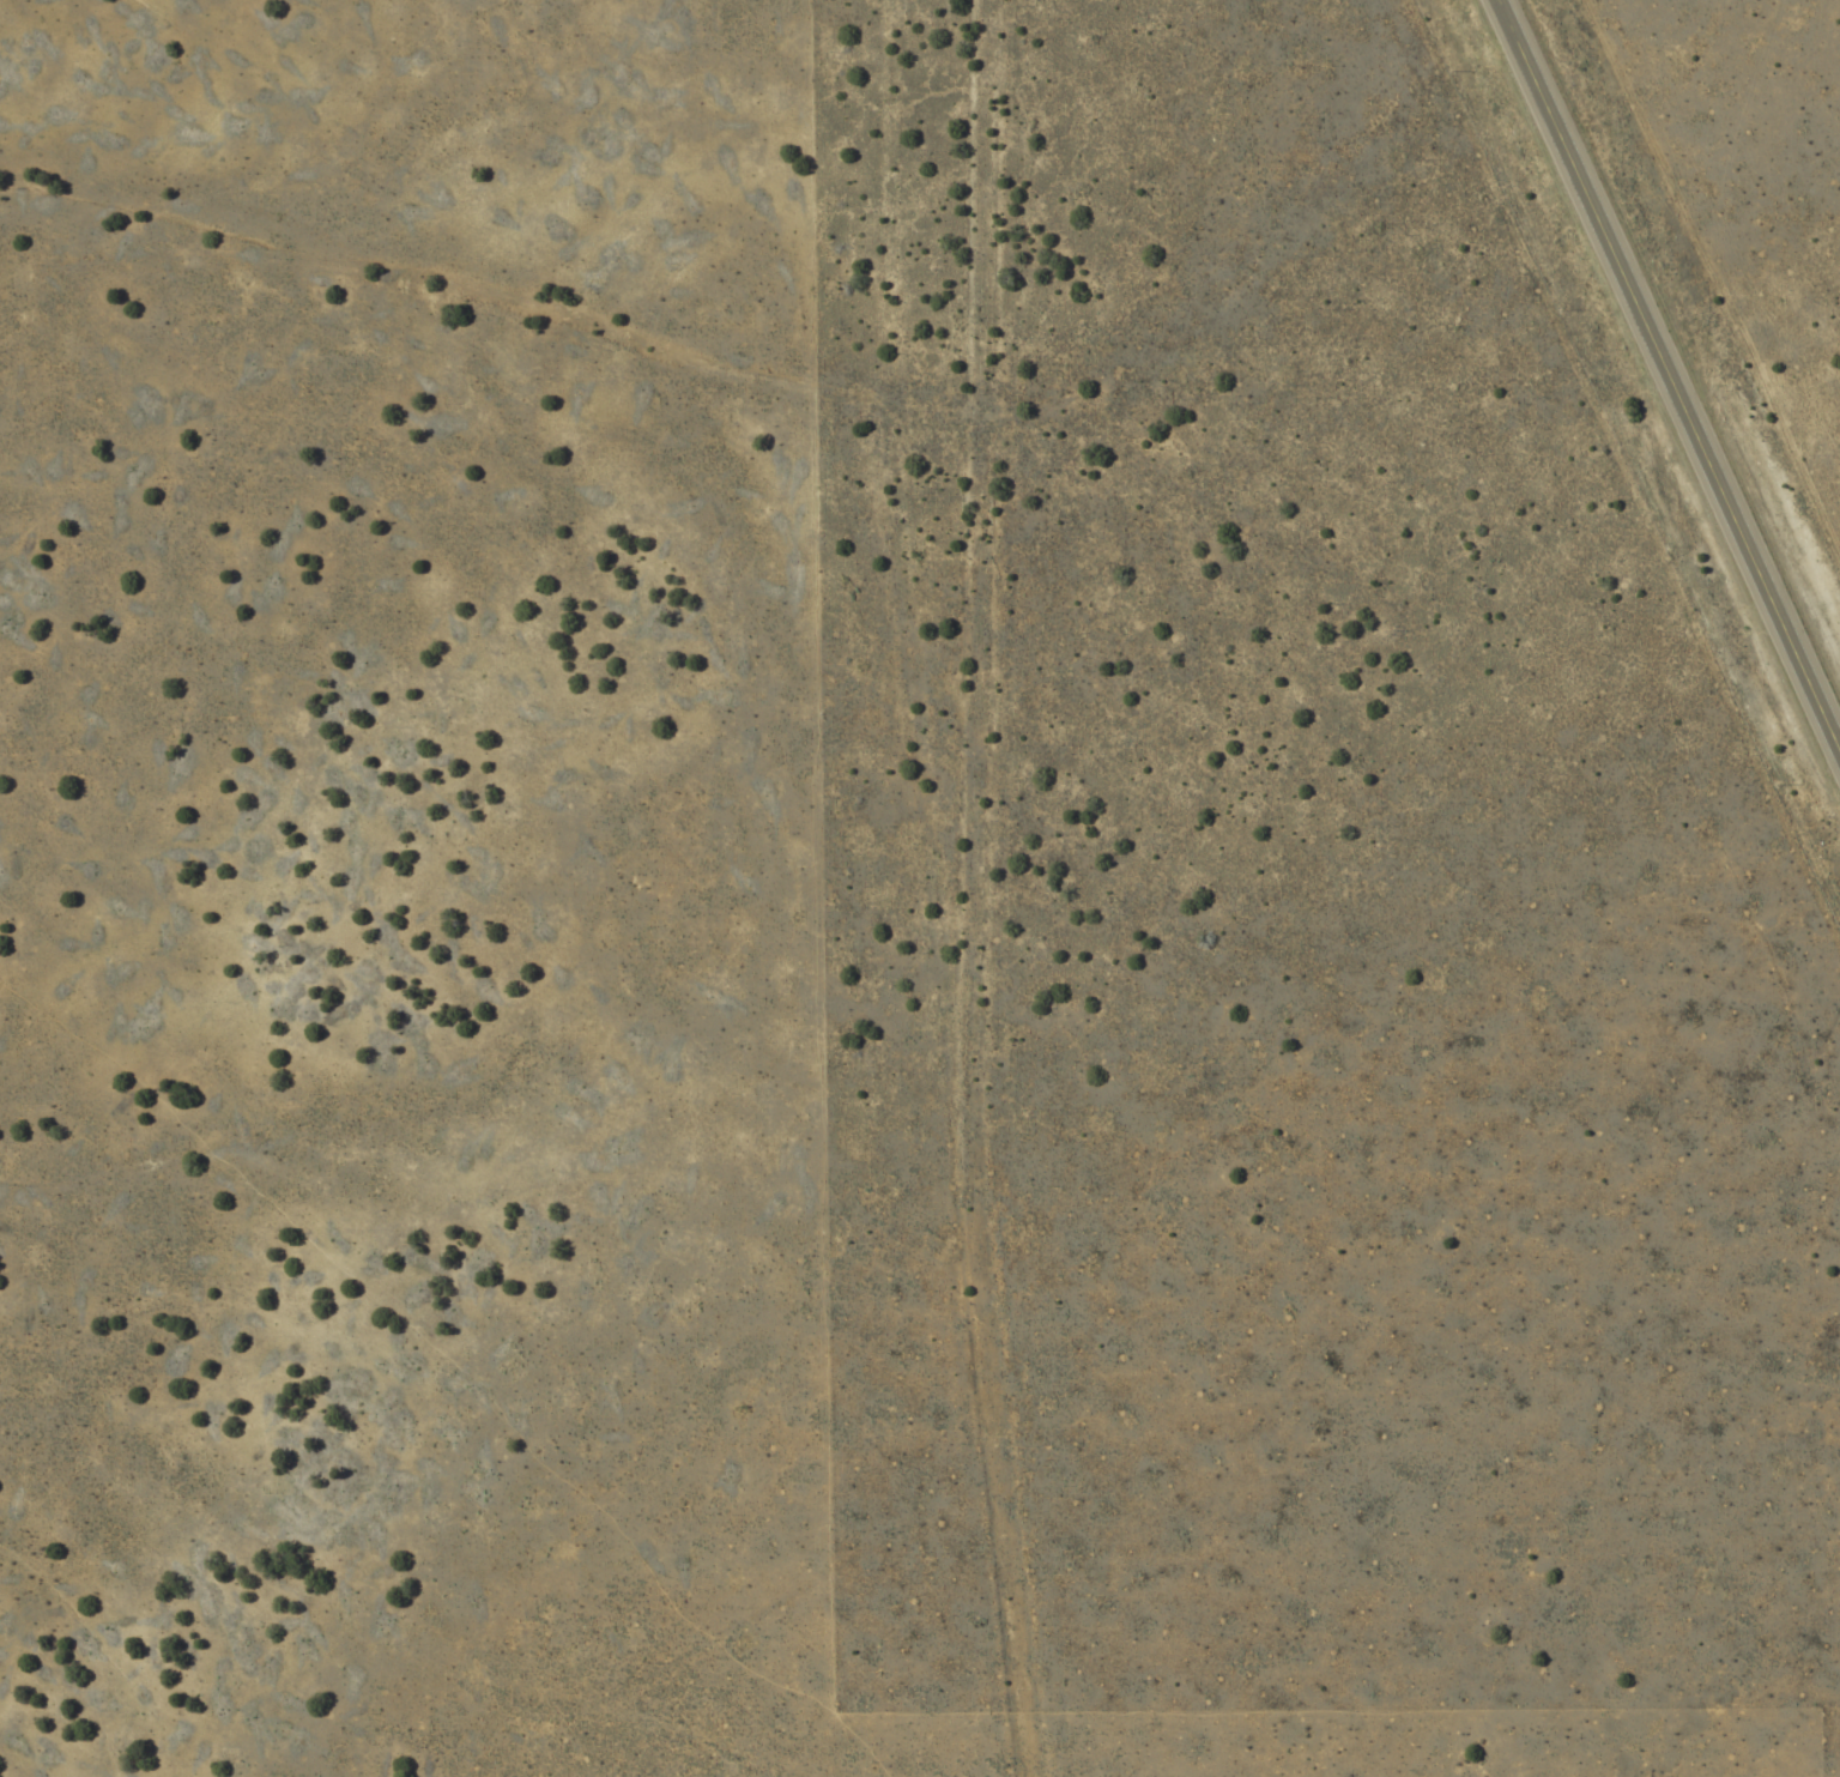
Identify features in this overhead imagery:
road: (1665, 381)

